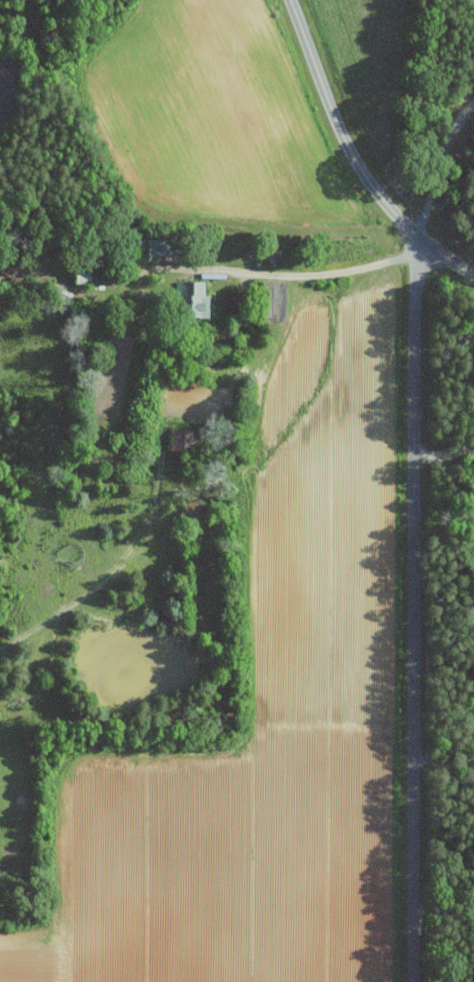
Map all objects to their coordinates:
road: (338, 126)
road: (440, 164)
road: (445, 255)
road: (317, 273)
building: (195, 298)
building: (186, 439)
road: (456, 450)
road: (427, 451)
road: (452, 484)
road: (415, 607)
road: (444, 760)
road: (444, 916)

